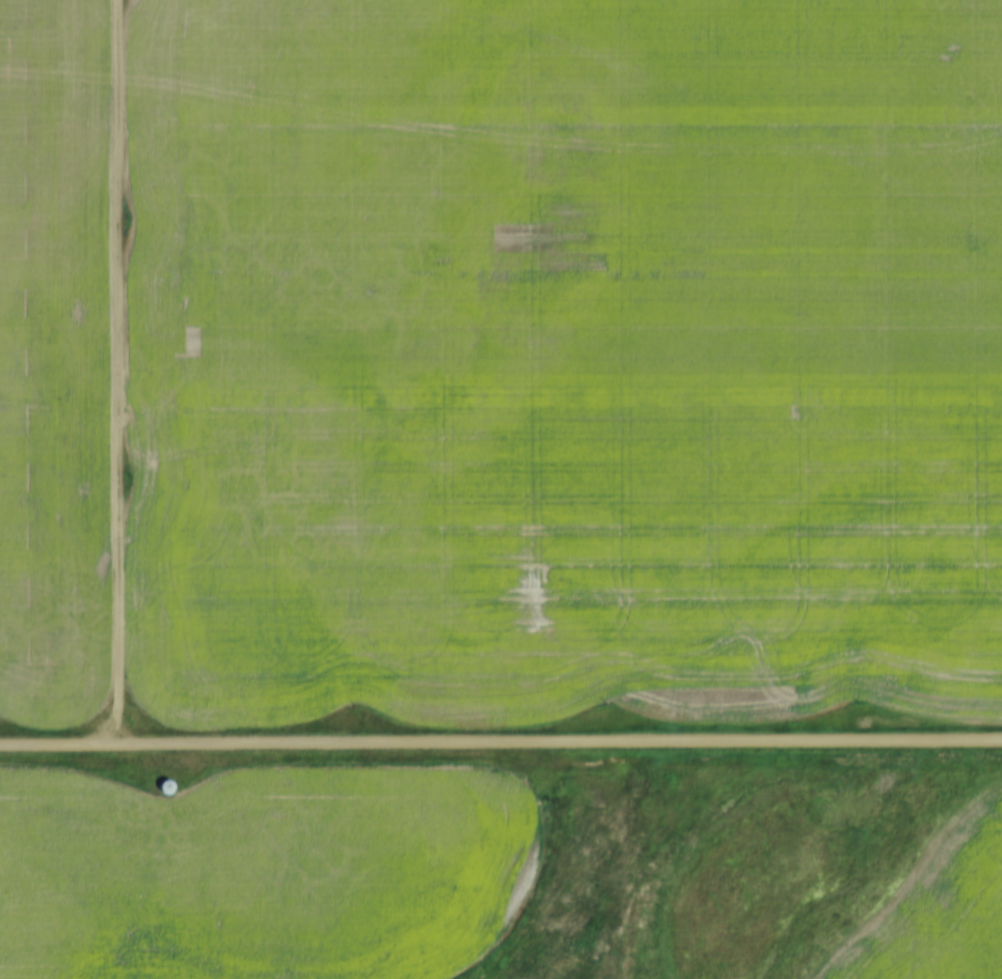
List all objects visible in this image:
road: (123, 371)
road: (500, 741)
building: (177, 781)

